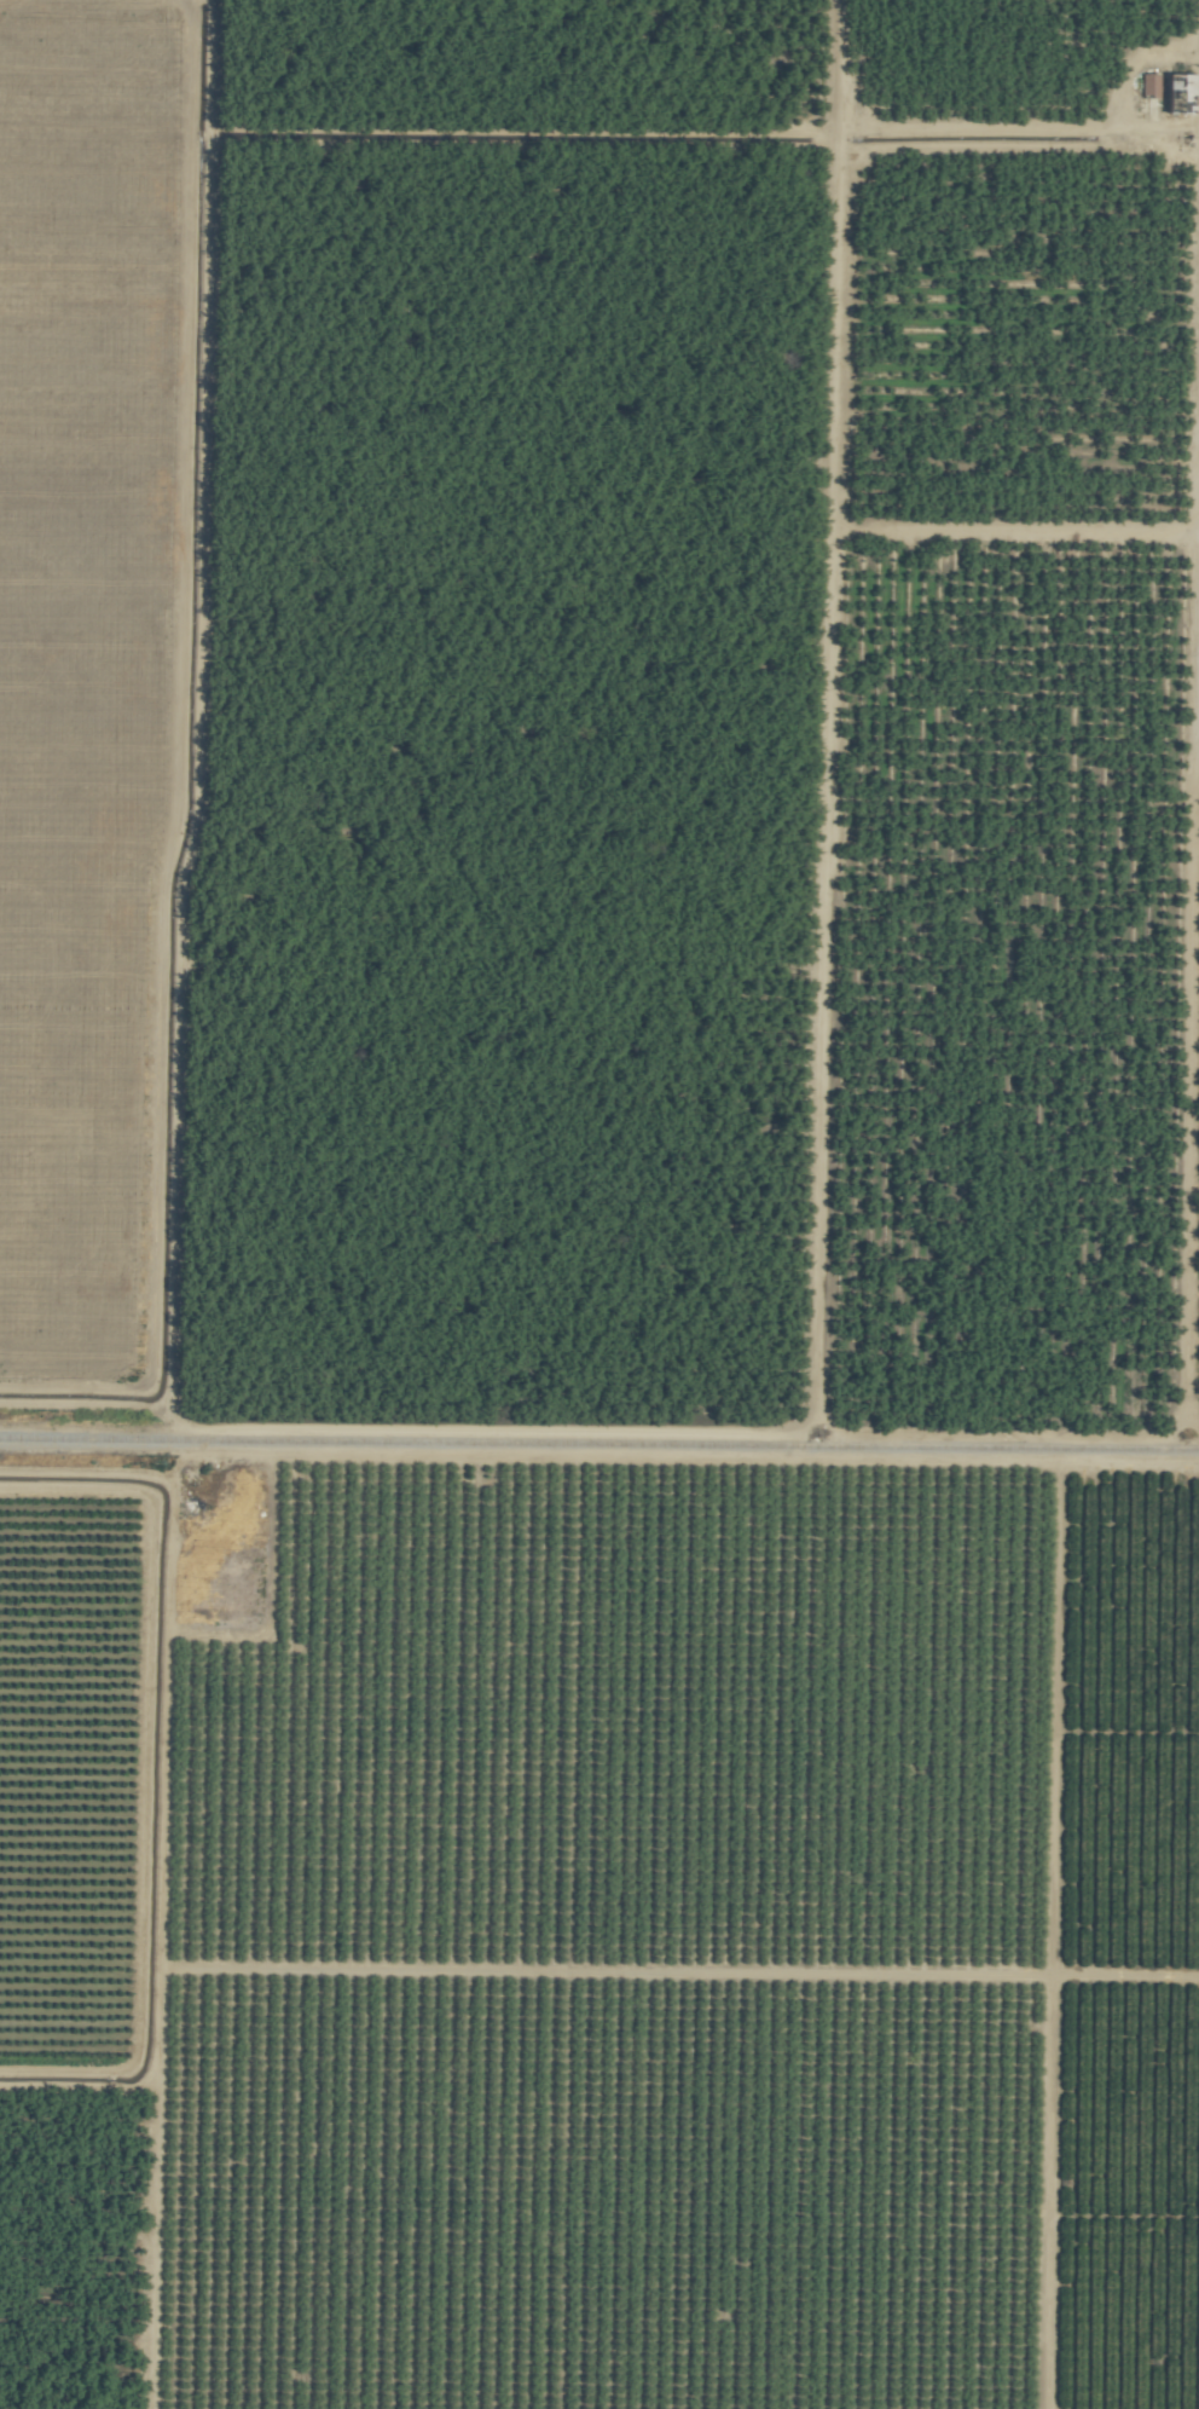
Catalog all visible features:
building: (1147, 85)
crop: (599, 1204)
railway: (599, 1444)

